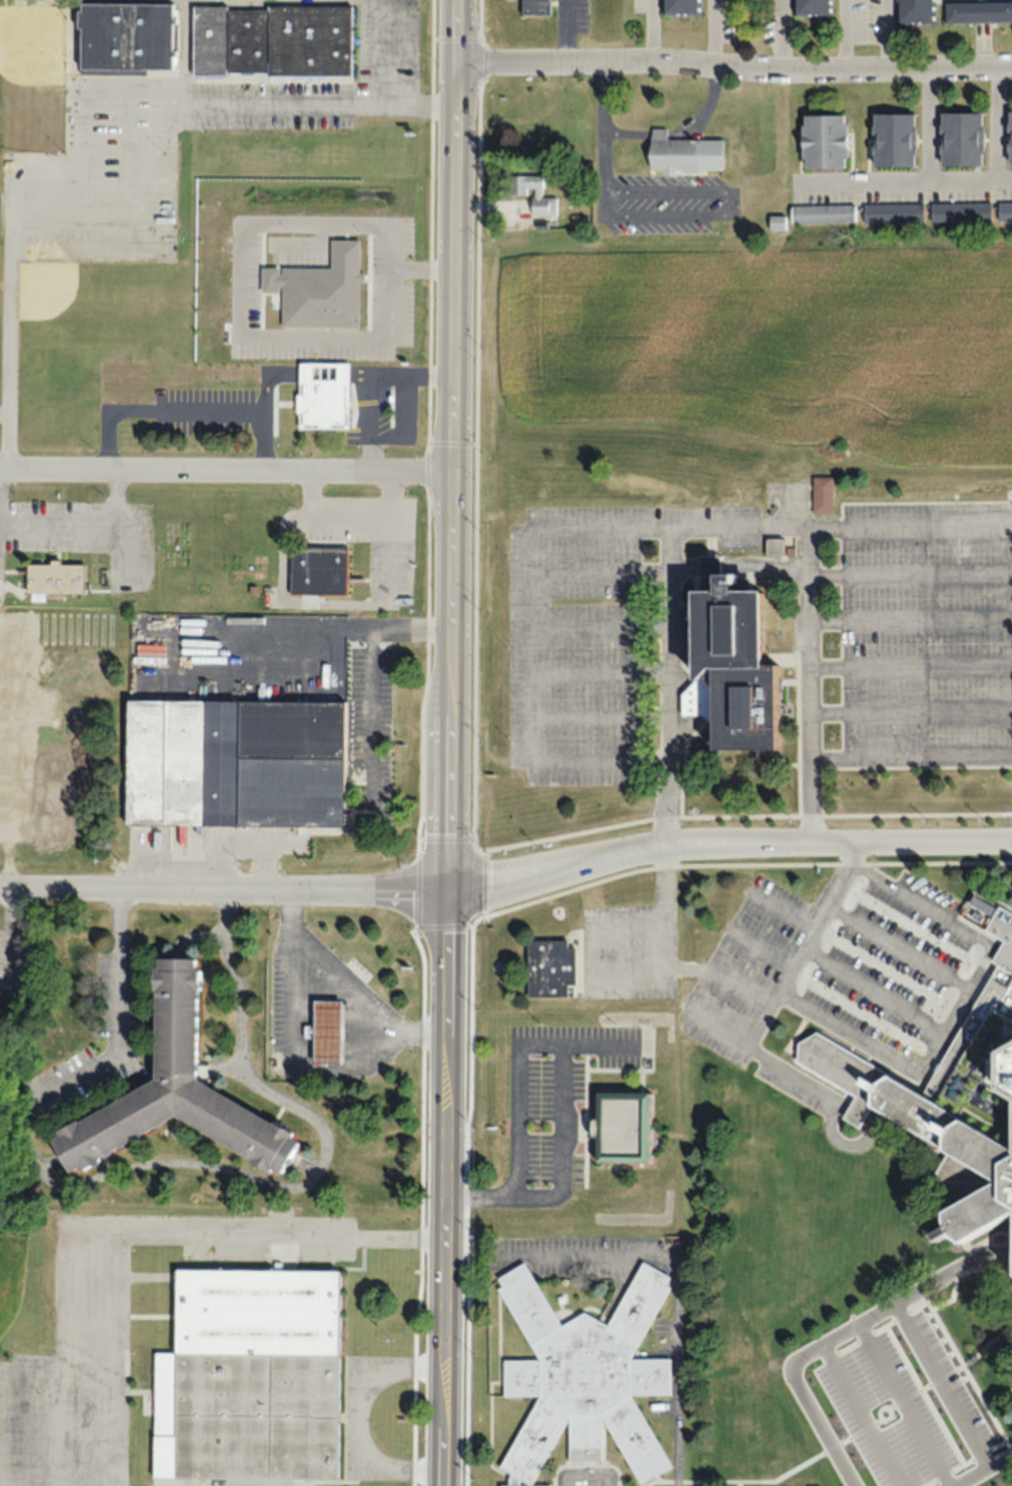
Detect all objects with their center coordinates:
building: (533, 7)
building: (680, 7)
building: (811, 8)
building: (915, 11)
building: (977, 11)
road: (450, 35)
road: (713, 35)
road: (783, 35)
road: (844, 35)
road: (888, 35)
building: (125, 37)
building: (271, 40)
road: (386, 53)
road: (730, 70)
road: (196, 101)
building: (1009, 137)
building: (960, 138)
building: (893, 139)
building: (822, 140)
building: (673, 152)
building: (534, 194)
building: (1004, 211)
building: (892, 212)
building: (959, 212)
building: (822, 213)
road: (450, 270)
road: (11, 314)
building: (322, 395)
road: (225, 467)
building: (821, 494)
road: (116, 495)
road: (57, 522)
road: (909, 526)
road: (735, 527)
parking lot: (87, 532)
road: (132, 544)
building: (317, 571)
road: (909, 573)
building: (53, 577)
road: (910, 620)
building: (730, 661)
road: (910, 665)
road: (910, 712)
road: (422, 743)
road: (910, 757)
building: (234, 763)
road: (836, 840)
road: (709, 863)
road: (333, 889)
building: (548, 968)
road: (450, 977)
road: (341, 993)
building: (326, 1032)
building: (173, 1091)
building: (950, 1097)
building: (619, 1127)
road: (177, 1163)
road: (954, 1266)
road: (881, 1308)
building: (249, 1377)
building: (583, 1377)
parking lot: (884, 1395)
road: (900, 1404)
road: (849, 1417)
road: (1001, 1457)

